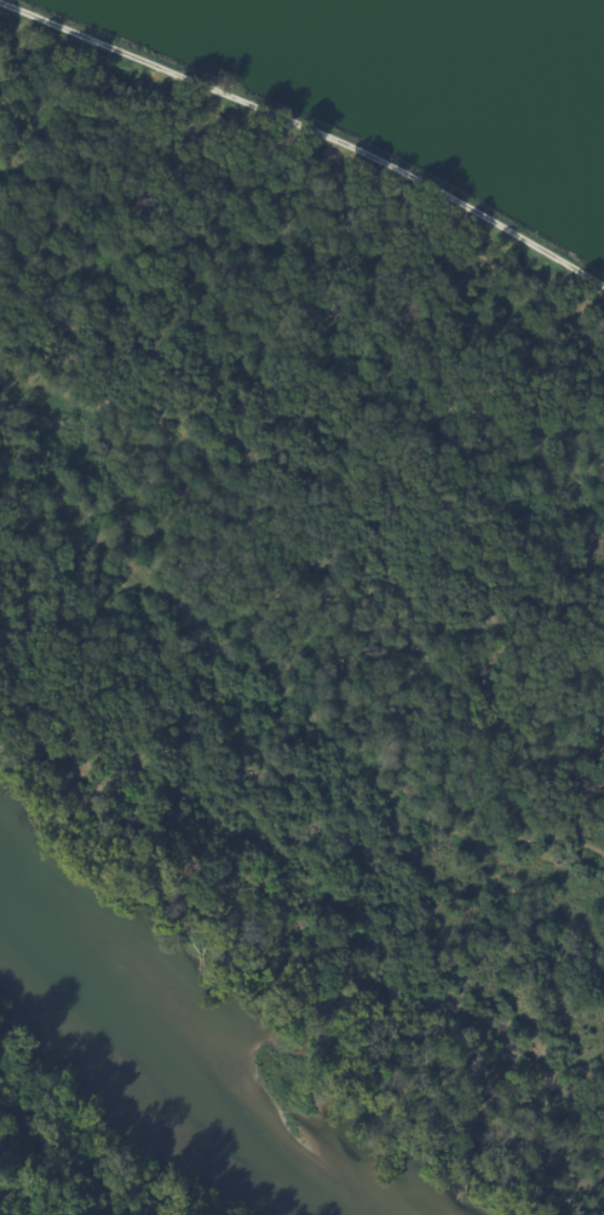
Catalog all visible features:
wastewater plant: (418, 85)
road: (309, 128)
road: (76, 619)
road: (294, 697)
river: (168, 1054)

